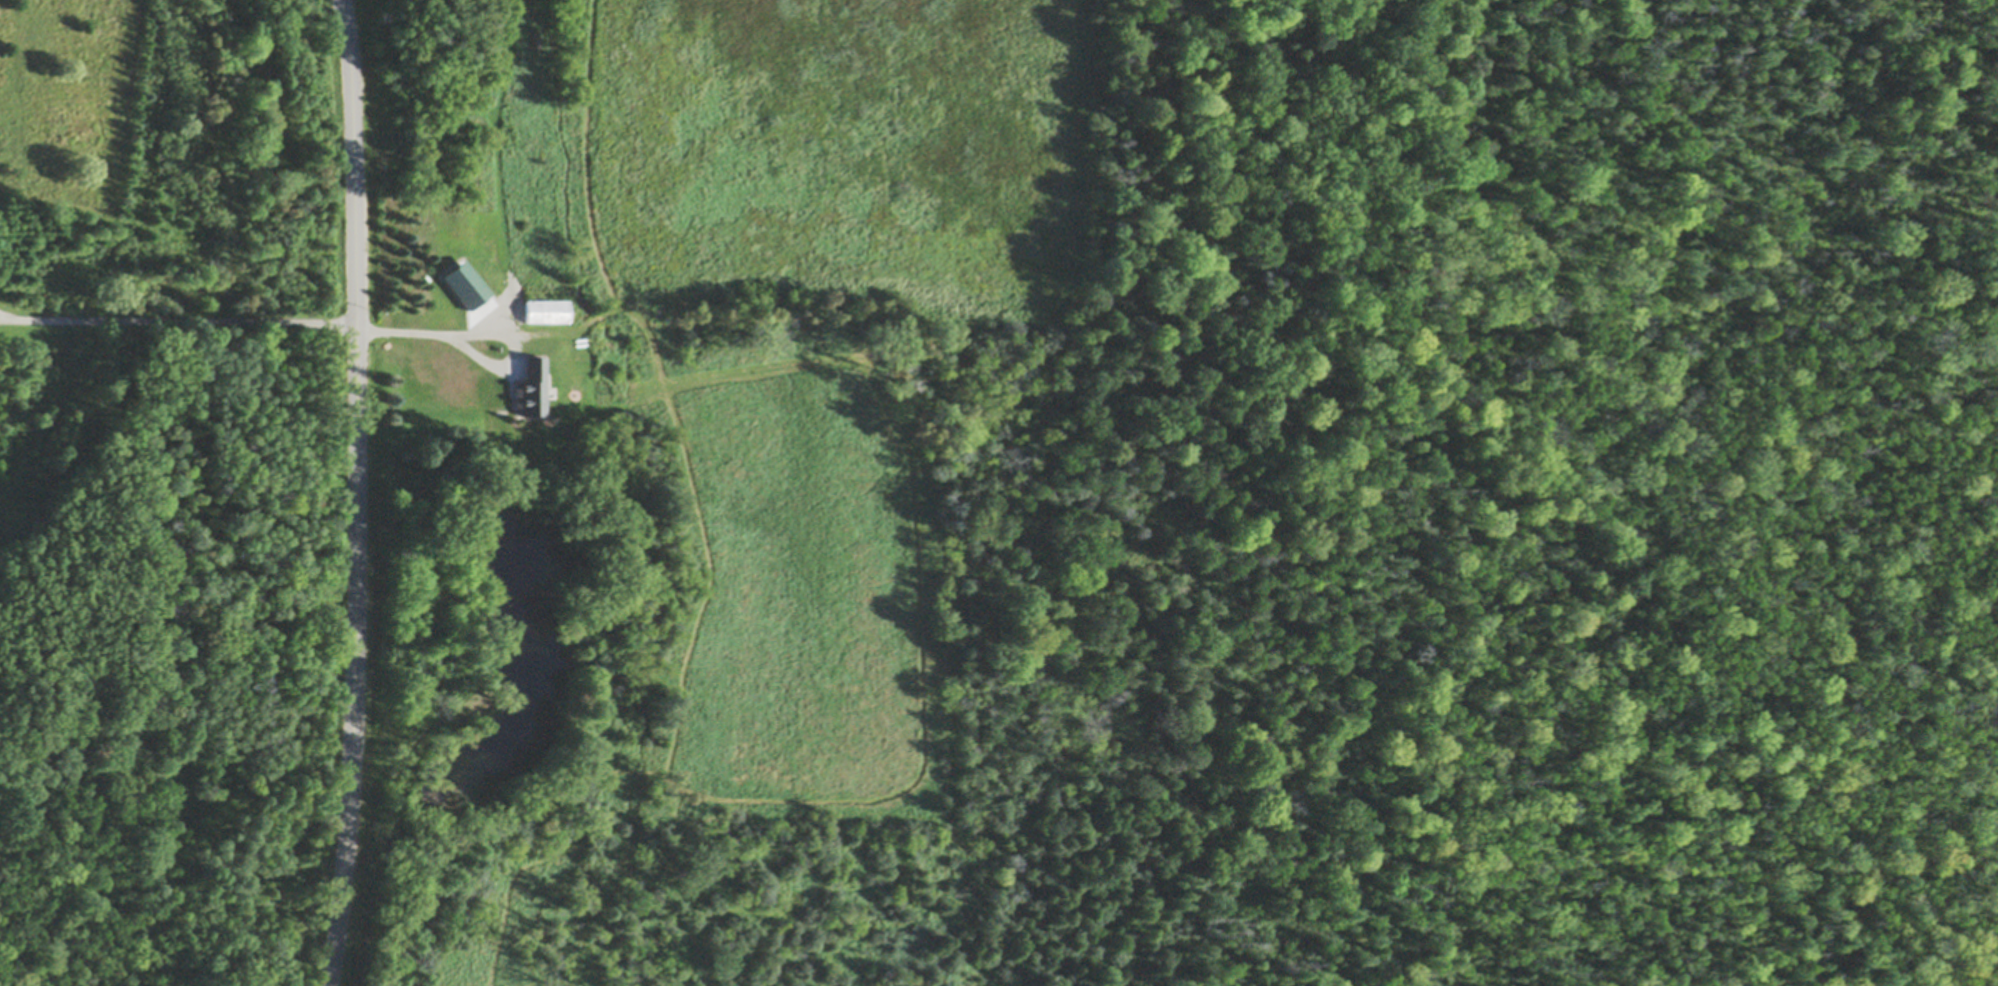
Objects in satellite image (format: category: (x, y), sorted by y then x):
building: (547, 307)
road: (5, 317)
road: (178, 319)
road: (427, 334)
building: (532, 382)
road: (357, 493)

